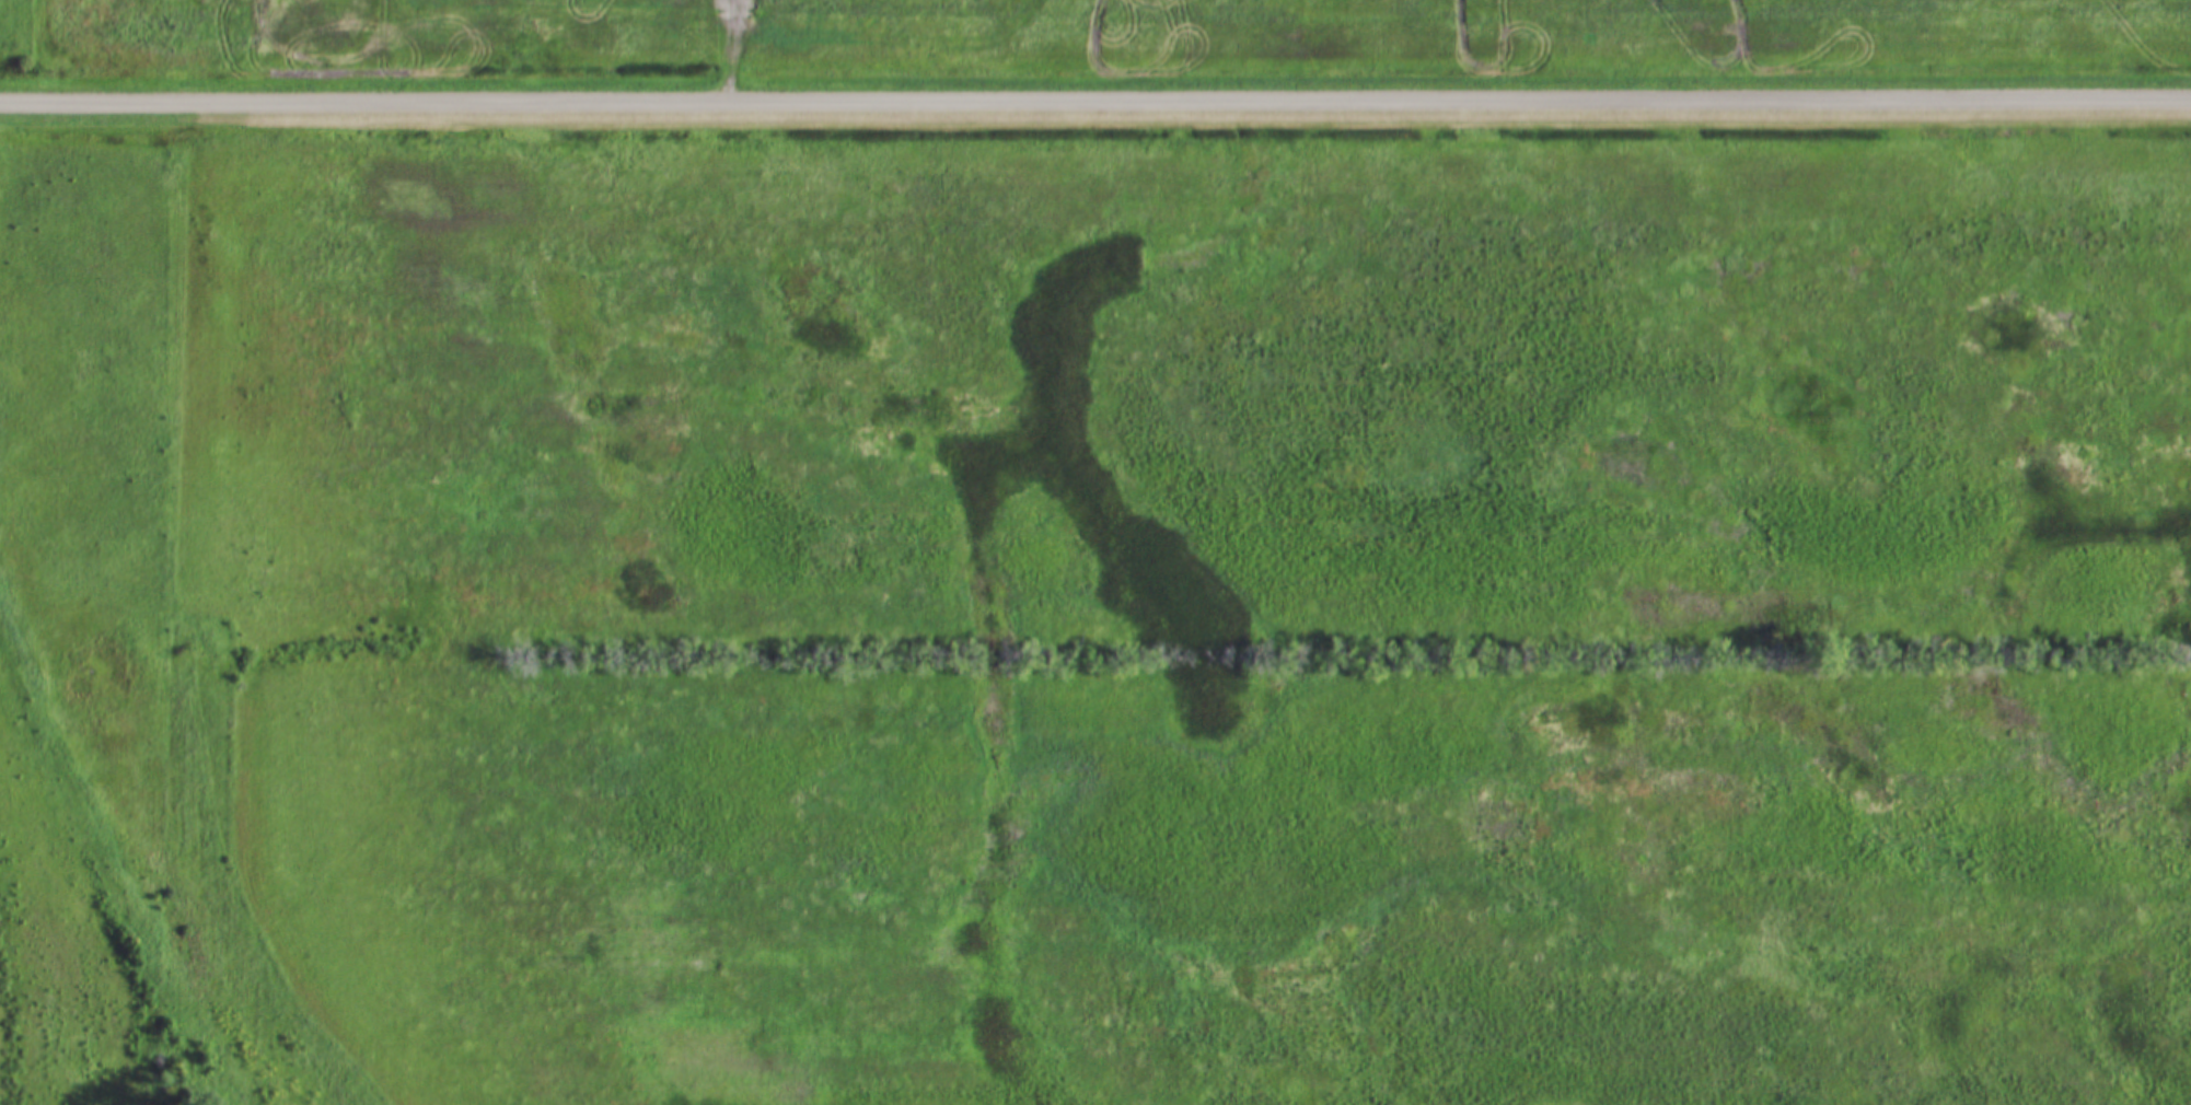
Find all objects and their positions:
road: (1095, 101)

